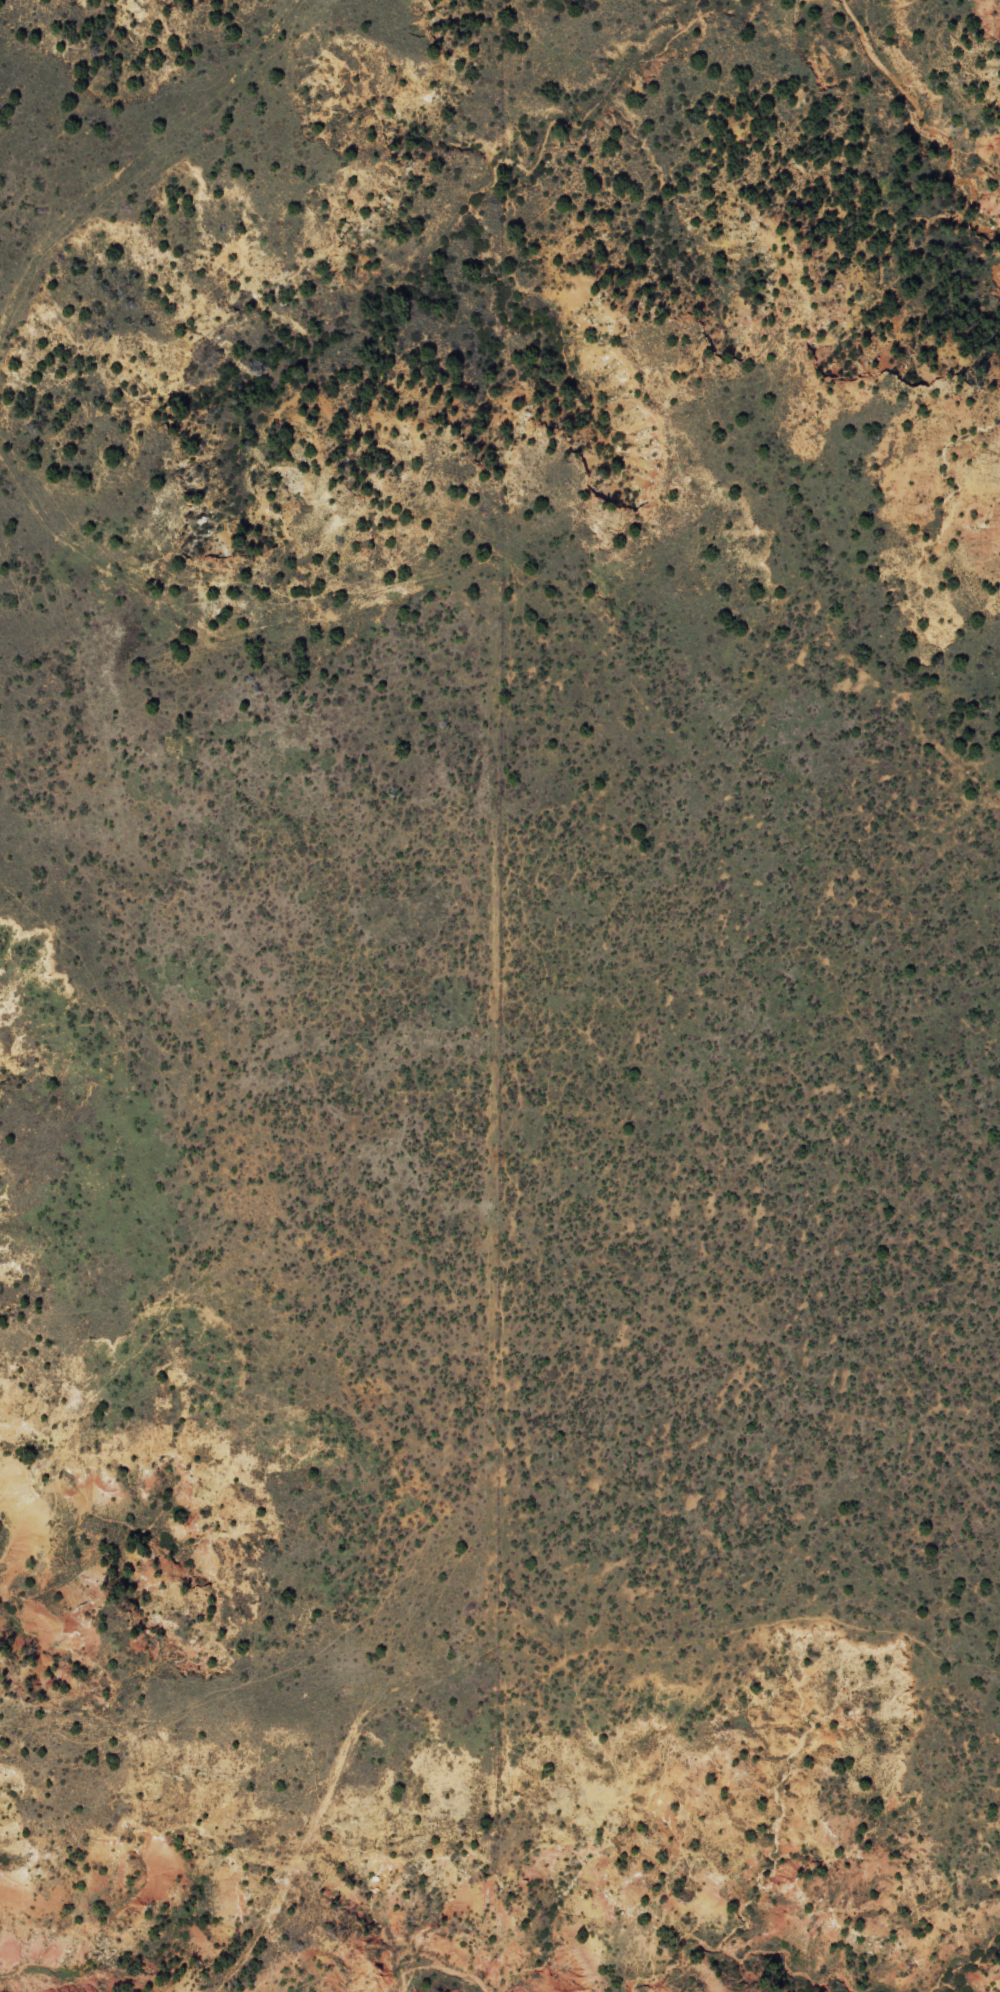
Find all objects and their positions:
road: (784, 1635)

